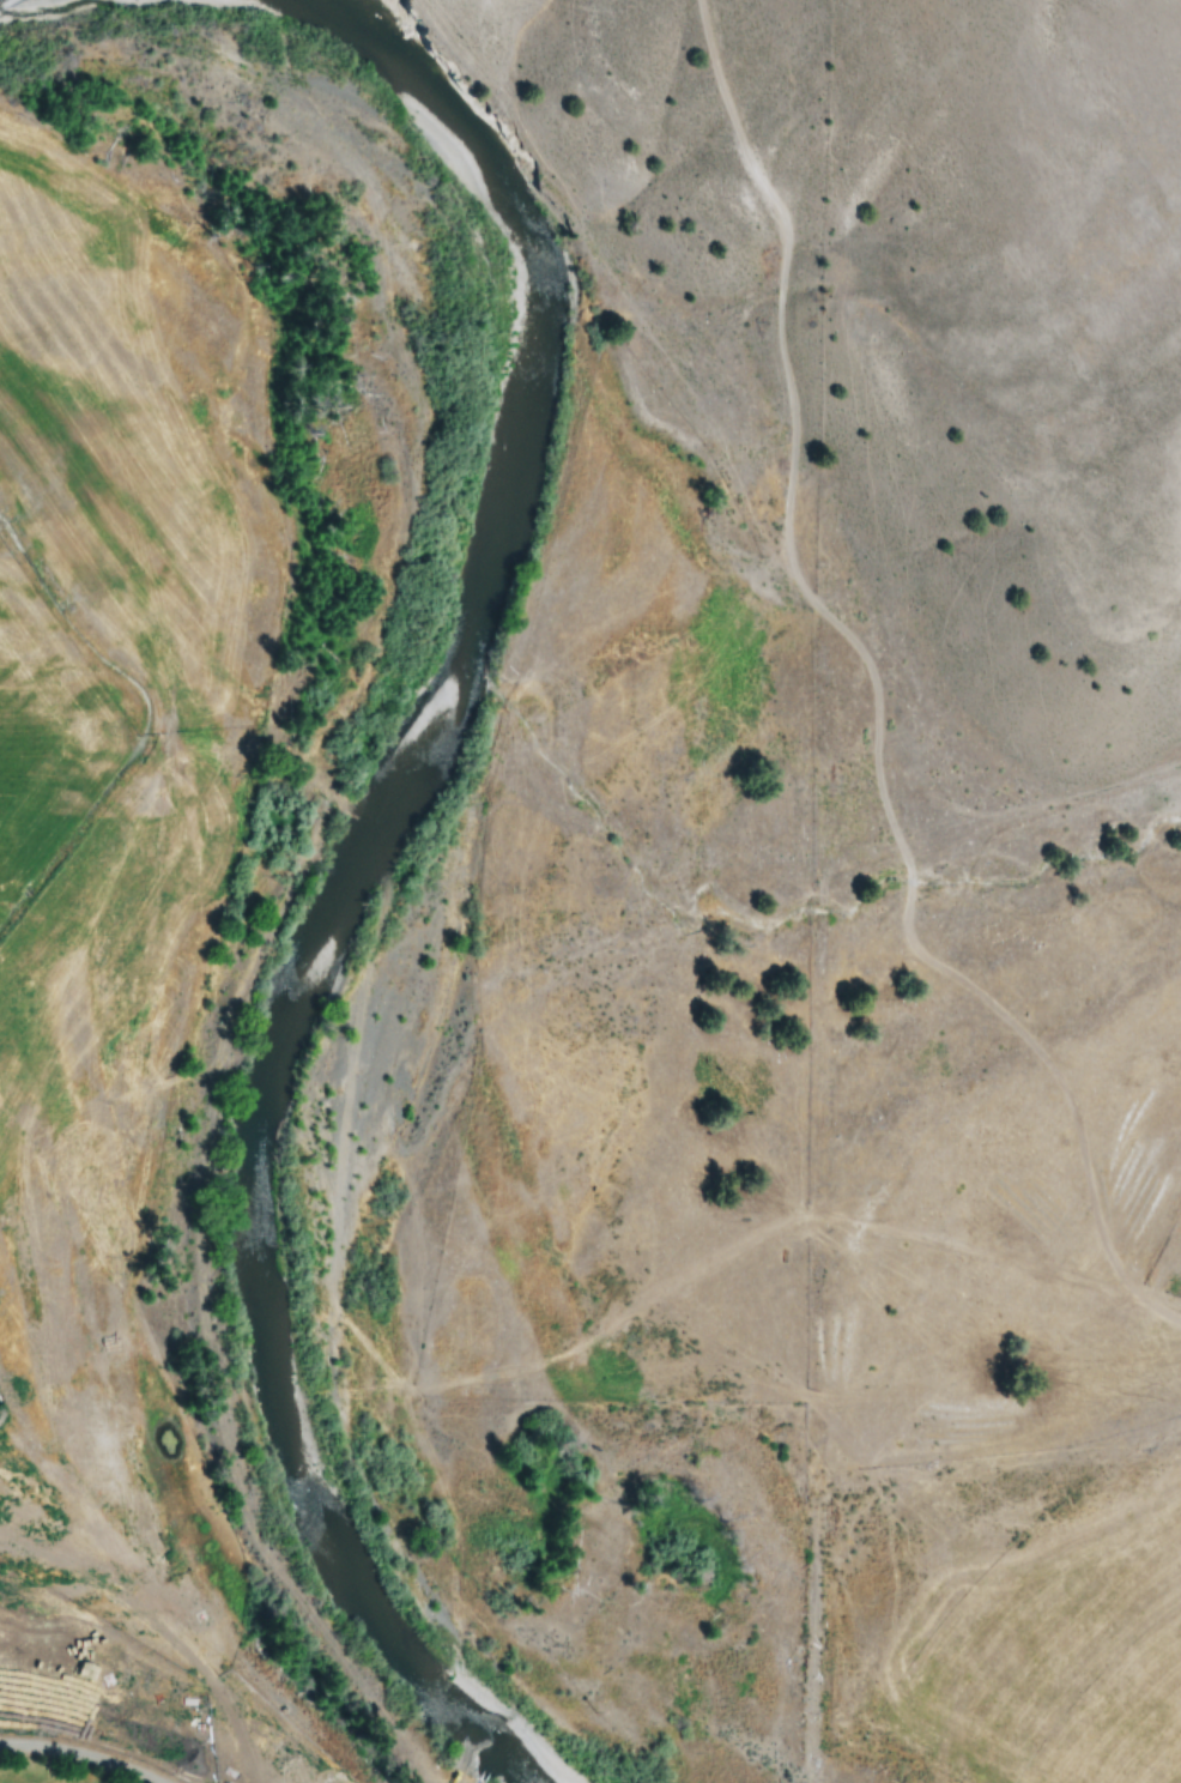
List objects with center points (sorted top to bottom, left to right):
river: (355, 882)
road: (78, 1757)

